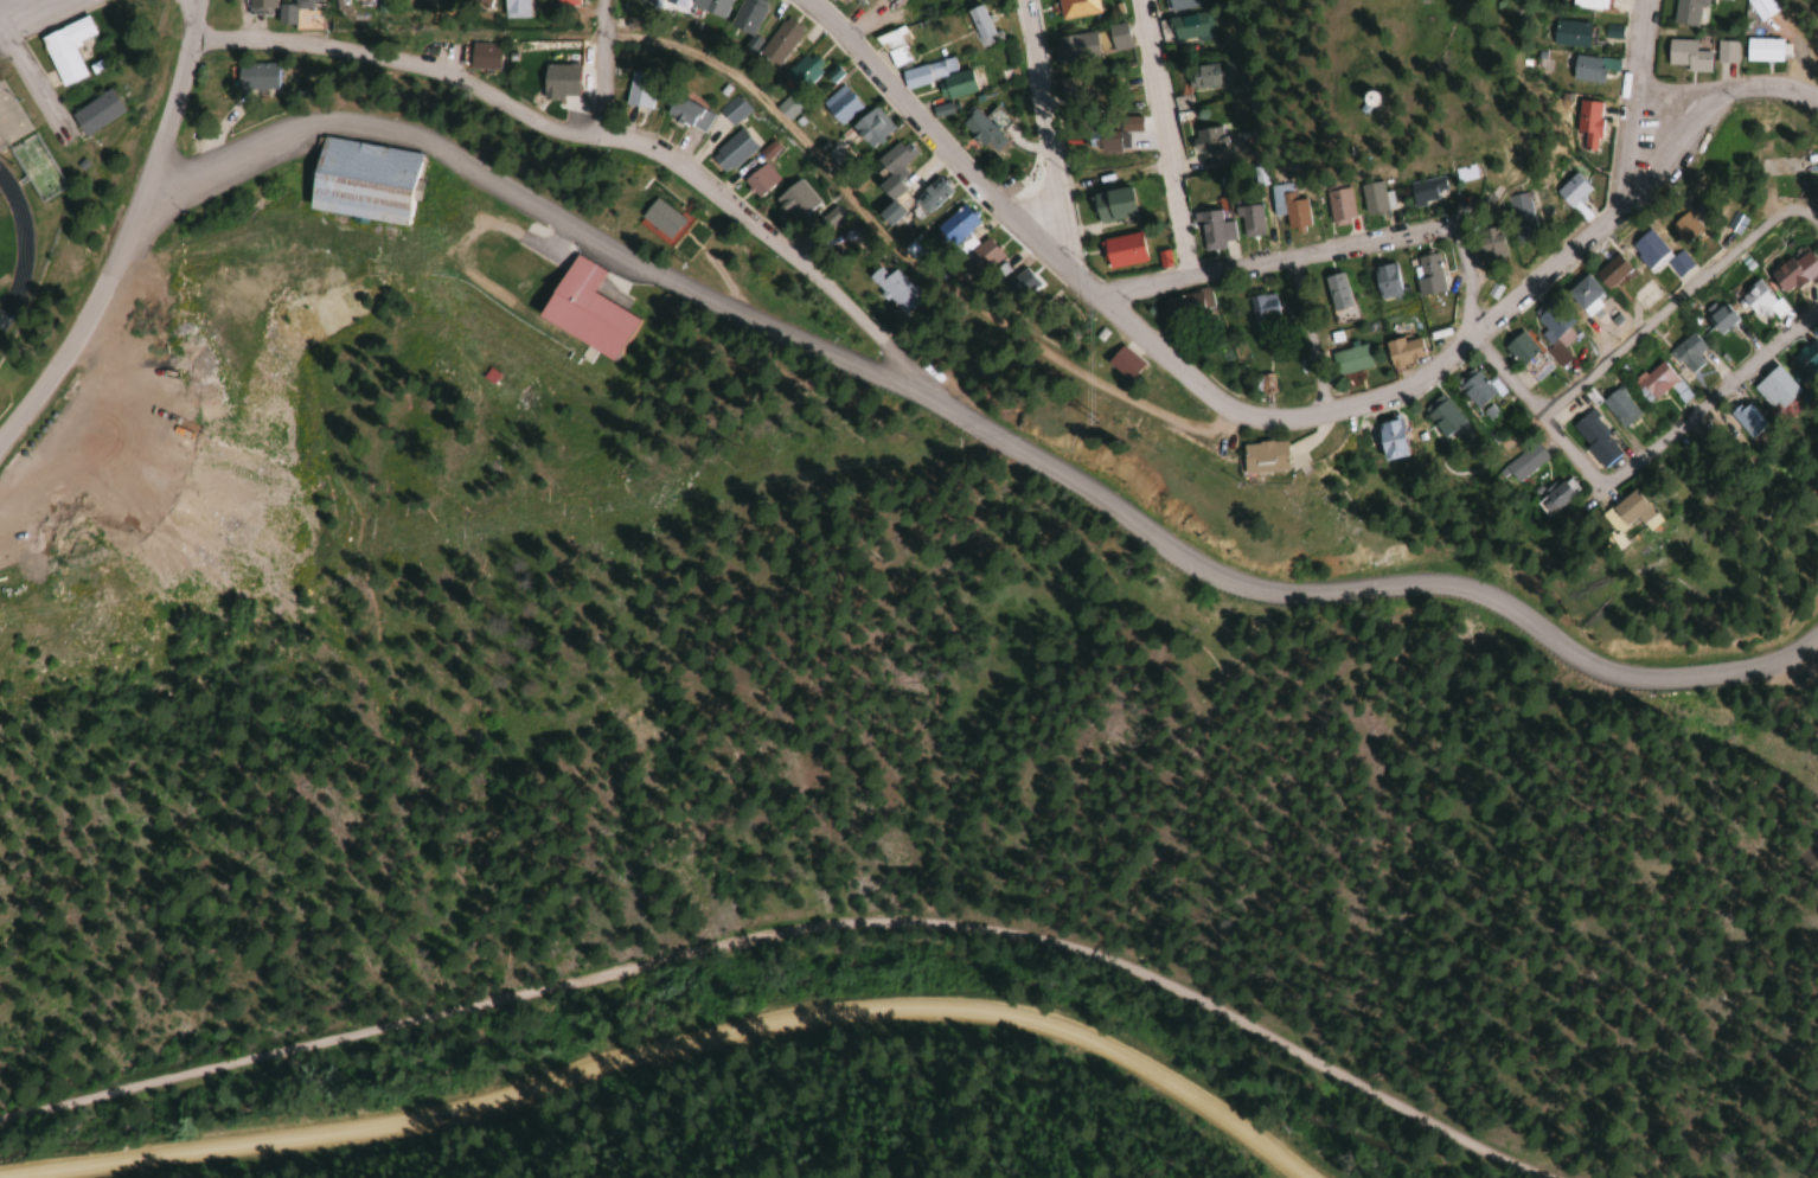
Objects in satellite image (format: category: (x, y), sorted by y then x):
building: (561, 2)
building: (258, 4)
building: (1180, 5)
building: (1587, 5)
building: (699, 6)
road: (37, 8)
building: (1077, 8)
building: (1759, 8)
building: (511, 9)
building: (290, 11)
building: (1686, 12)
building: (745, 17)
building: (978, 25)
building: (1190, 26)
building: (1569, 34)
building: (1119, 37)
building: (777, 41)
road: (320, 46)
building: (1076, 47)
building: (891, 49)
building: (64, 50)
building: (1760, 50)
building: (1723, 52)
building: (1685, 56)
building: (480, 57)
building: (1586, 70)
road: (602, 71)
building: (924, 72)
building: (799, 73)
building: (252, 76)
building: (1203, 77)
building: (953, 85)
building: (638, 90)
building: (1361, 100)
road: (1635, 100)
building: (838, 105)
building: (786, 108)
building: (732, 109)
building: (91, 113)
building: (686, 114)
road: (168, 115)
building: (1586, 126)
building: (868, 128)
building: (979, 130)
road: (1039, 130)
road: (1166, 136)
building: (1102, 139)
building: (1206, 139)
building: (768, 149)
building: (730, 152)
road: (689, 174)
building: (758, 179)
building: (889, 179)
building: (359, 181)
building: (1421, 191)
building: (1569, 191)
stadium: (20, 196)
building: (928, 196)
building: (1370, 198)
building: (794, 200)
road: (526, 201)
building: (1110, 205)
building: (1287, 206)
building: (1336, 206)
building: (1518, 217)
building: (659, 218)
building: (828, 219)
building: (1248, 220)
building: (1733, 223)
building: (952, 225)
building: (1682, 228)
building: (1212, 230)
track: (13, 241)
building: (1486, 244)
building: (1120, 250)
building: (1656, 254)
road: (1269, 256)
building: (975, 263)
building: (1608, 271)
building: (1792, 271)
building: (1426, 275)
building: (1384, 282)
building: (1016, 284)
building: (891, 288)
building: (1334, 292)
building: (1580, 293)
road: (1673, 299)
building: (1753, 299)
building: (581, 310)
building: (1177, 310)
building: (1261, 313)
building: (1718, 319)
building: (1553, 331)
road: (73, 339)
building: (1401, 351)
building: (1686, 353)
building: (1525, 357)
building: (1345, 359)
building: (1113, 364)
building: (1801, 364)
road: (1499, 367)
building: (1651, 380)
building: (1257, 385)
building: (1472, 388)
building: (1771, 390)
road: (1710, 401)
building: (1615, 408)
road: (1289, 410)
building: (1439, 418)
building: (1740, 421)
building: (1382, 440)
building: (1588, 441)
building: (1249, 460)
building: (1518, 463)
building: (1543, 500)
building: (1617, 516)
road: (1334, 589)
road: (792, 931)
road: (689, 1059)

